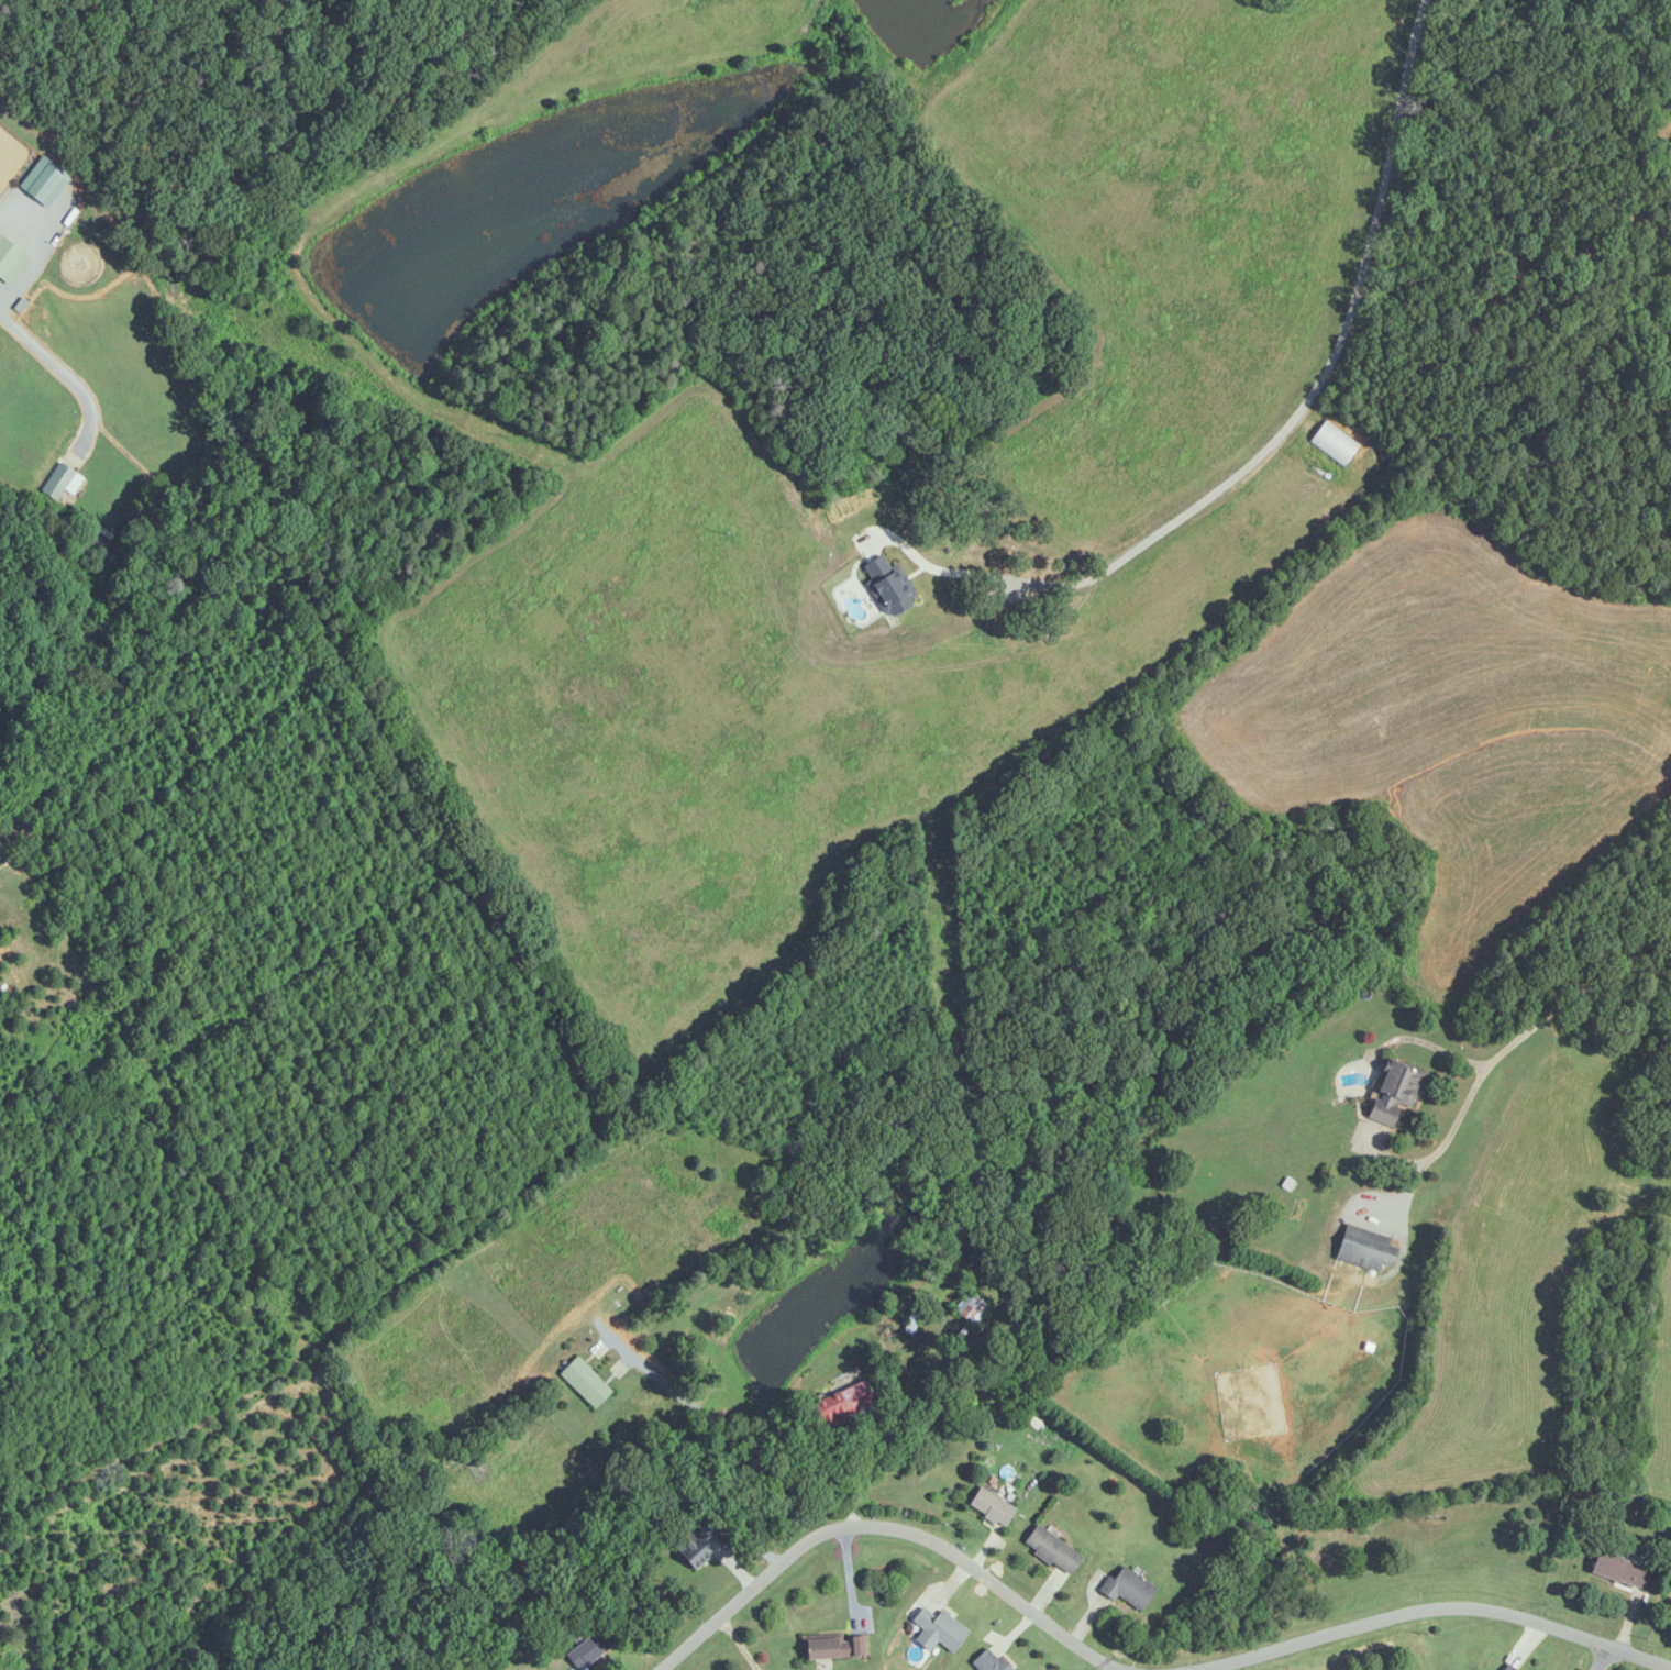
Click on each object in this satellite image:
building: (44, 184)
building: (9, 256)
road: (56, 356)
road: (1307, 414)
building: (65, 478)
building: (996, 563)
road: (1526, 1019)
building: (1394, 1091)
building: (1365, 1249)
building: (972, 1309)
building: (584, 1383)
building: (843, 1405)
road: (722, 1444)
road: (860, 1470)
building: (992, 1507)
road: (885, 1528)
building: (699, 1544)
building: (1052, 1550)
building: (1622, 1571)
building: (1128, 1588)
road: (1436, 1608)
building: (939, 1630)
building: (834, 1648)
building: (589, 1650)
road: (1602, 1660)
building: (988, 1661)
building: (1509, 1668)

